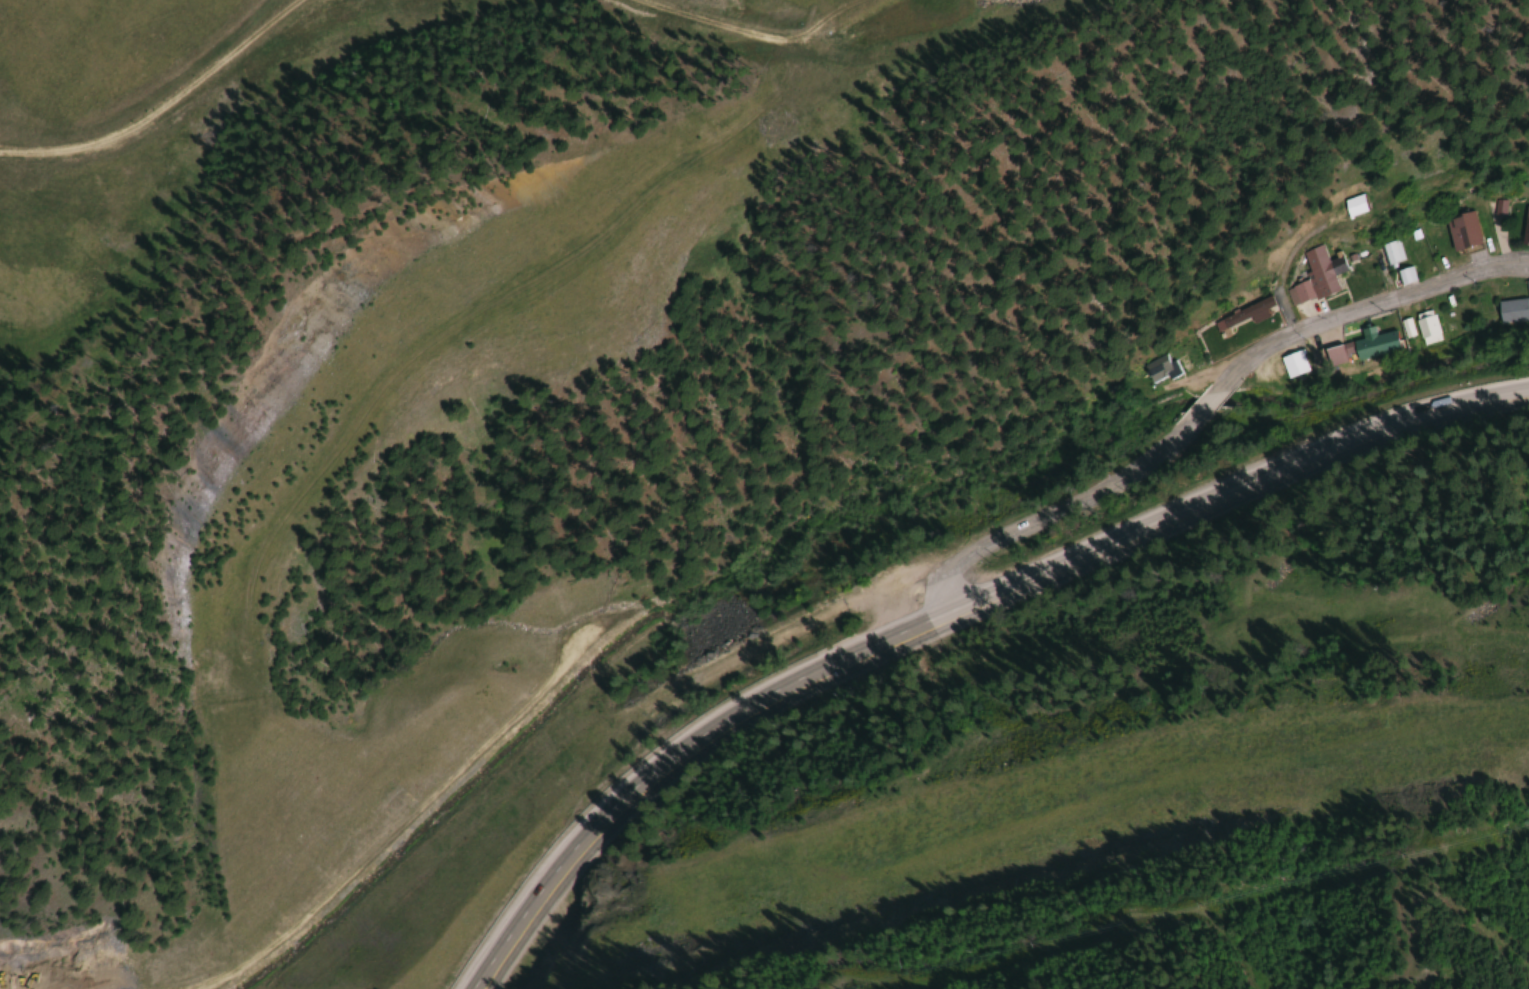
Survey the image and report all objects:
building: (1351, 205)
building: (1524, 226)
building: (1460, 230)
building: (1390, 251)
building: (1316, 275)
building: (1404, 275)
building: (1514, 308)
building: (1241, 316)
building: (1426, 327)
building: (1374, 343)
building: (1333, 356)
building: (1292, 365)
building: (1158, 369)
road: (1200, 413)
road: (1358, 452)
road: (801, 691)

